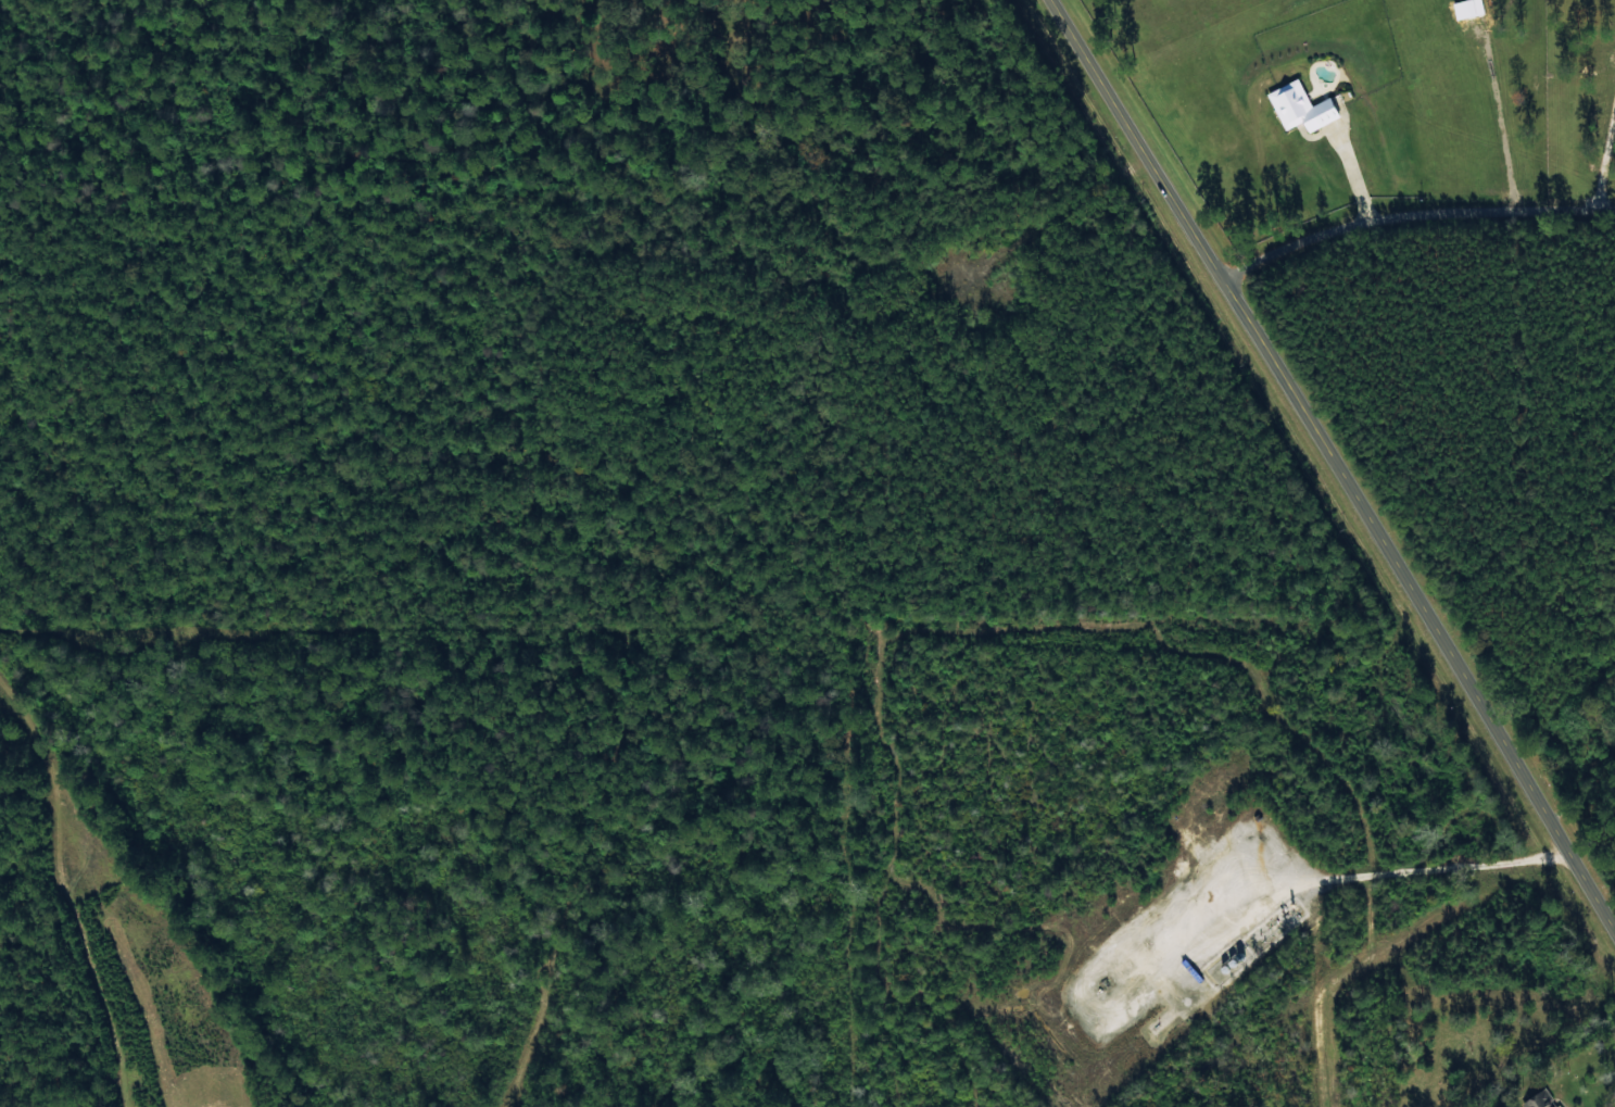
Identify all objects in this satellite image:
building: (1300, 106)
road: (1413, 228)
road: (1337, 467)
road: (1603, 894)
building: (1539, 1099)

